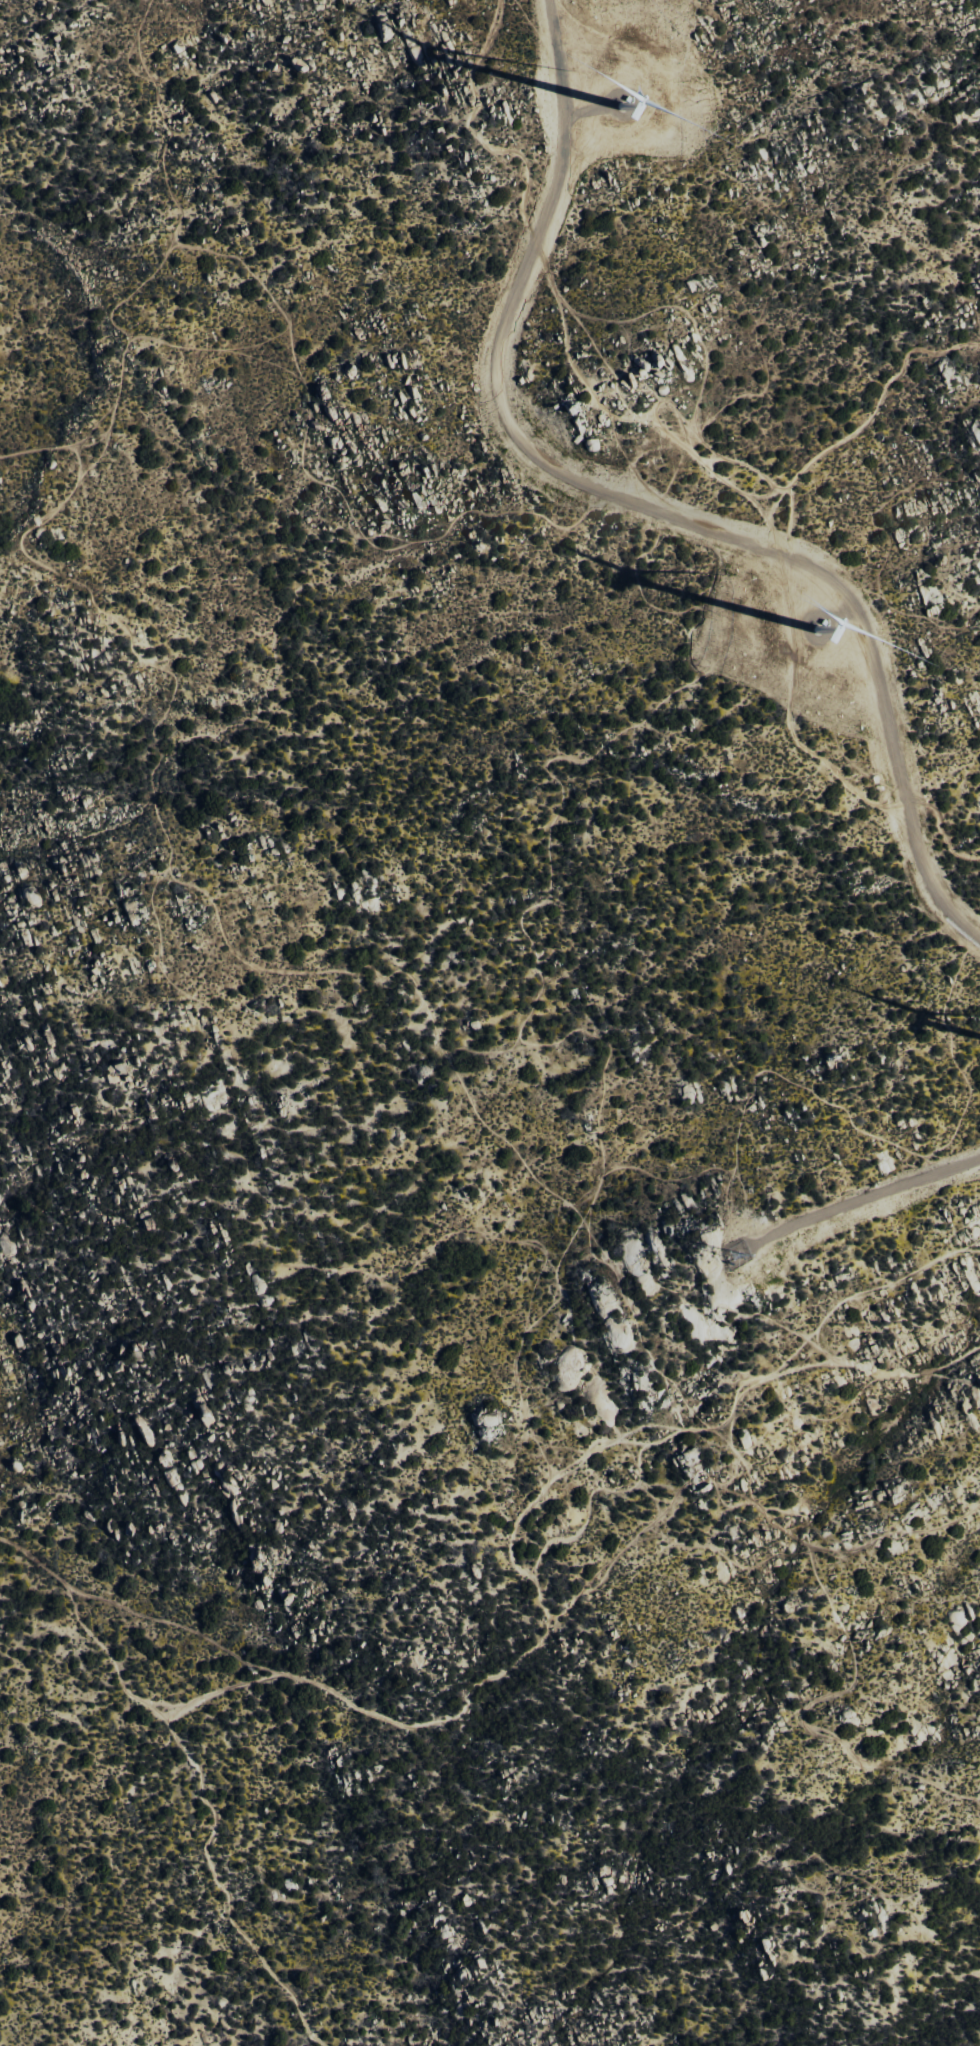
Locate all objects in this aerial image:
wind turbine: (624, 102)
road: (277, 307)
road: (644, 506)
road: (788, 602)
wind turbine: (820, 629)
road: (865, 1196)
road: (186, 1696)

